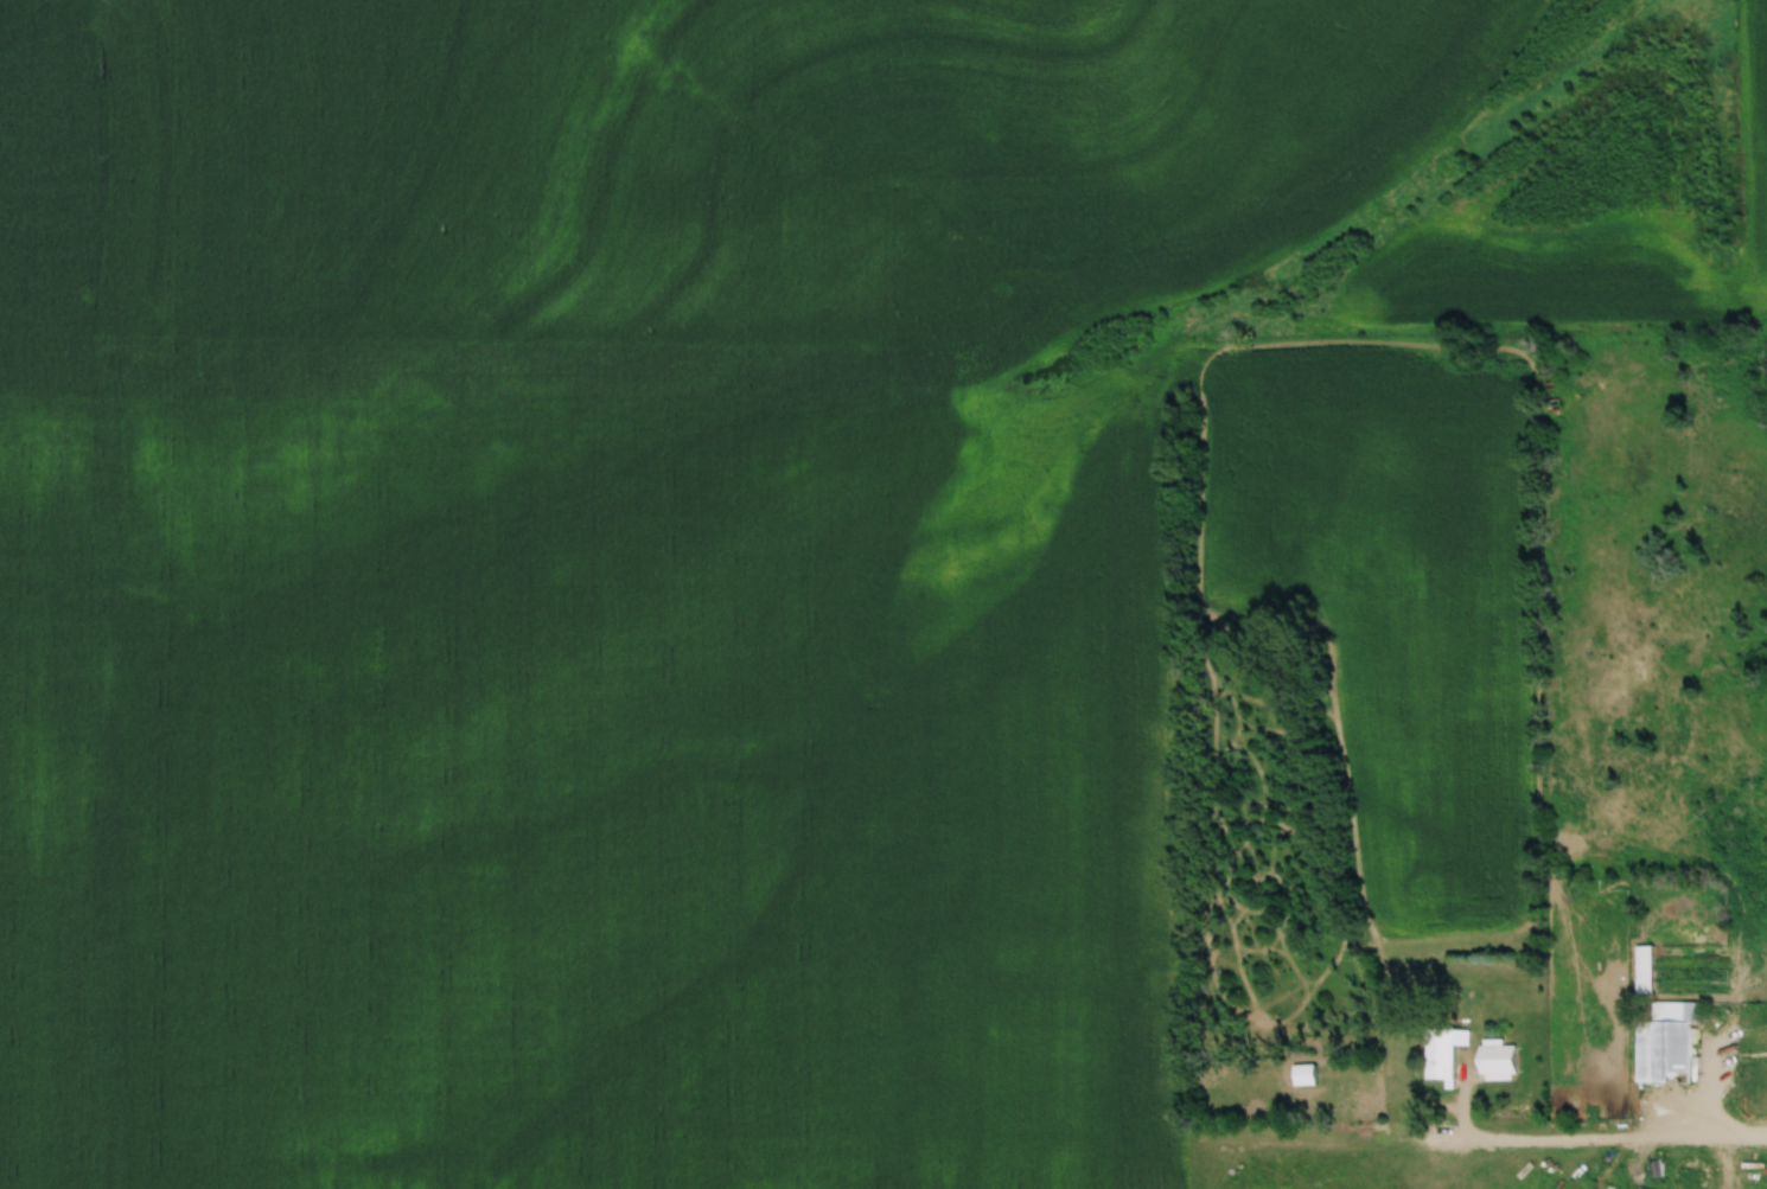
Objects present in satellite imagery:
building: (1642, 969)
building: (1663, 1041)
building: (1442, 1053)
building: (1495, 1060)
building: (1302, 1074)
road: (1619, 1137)

